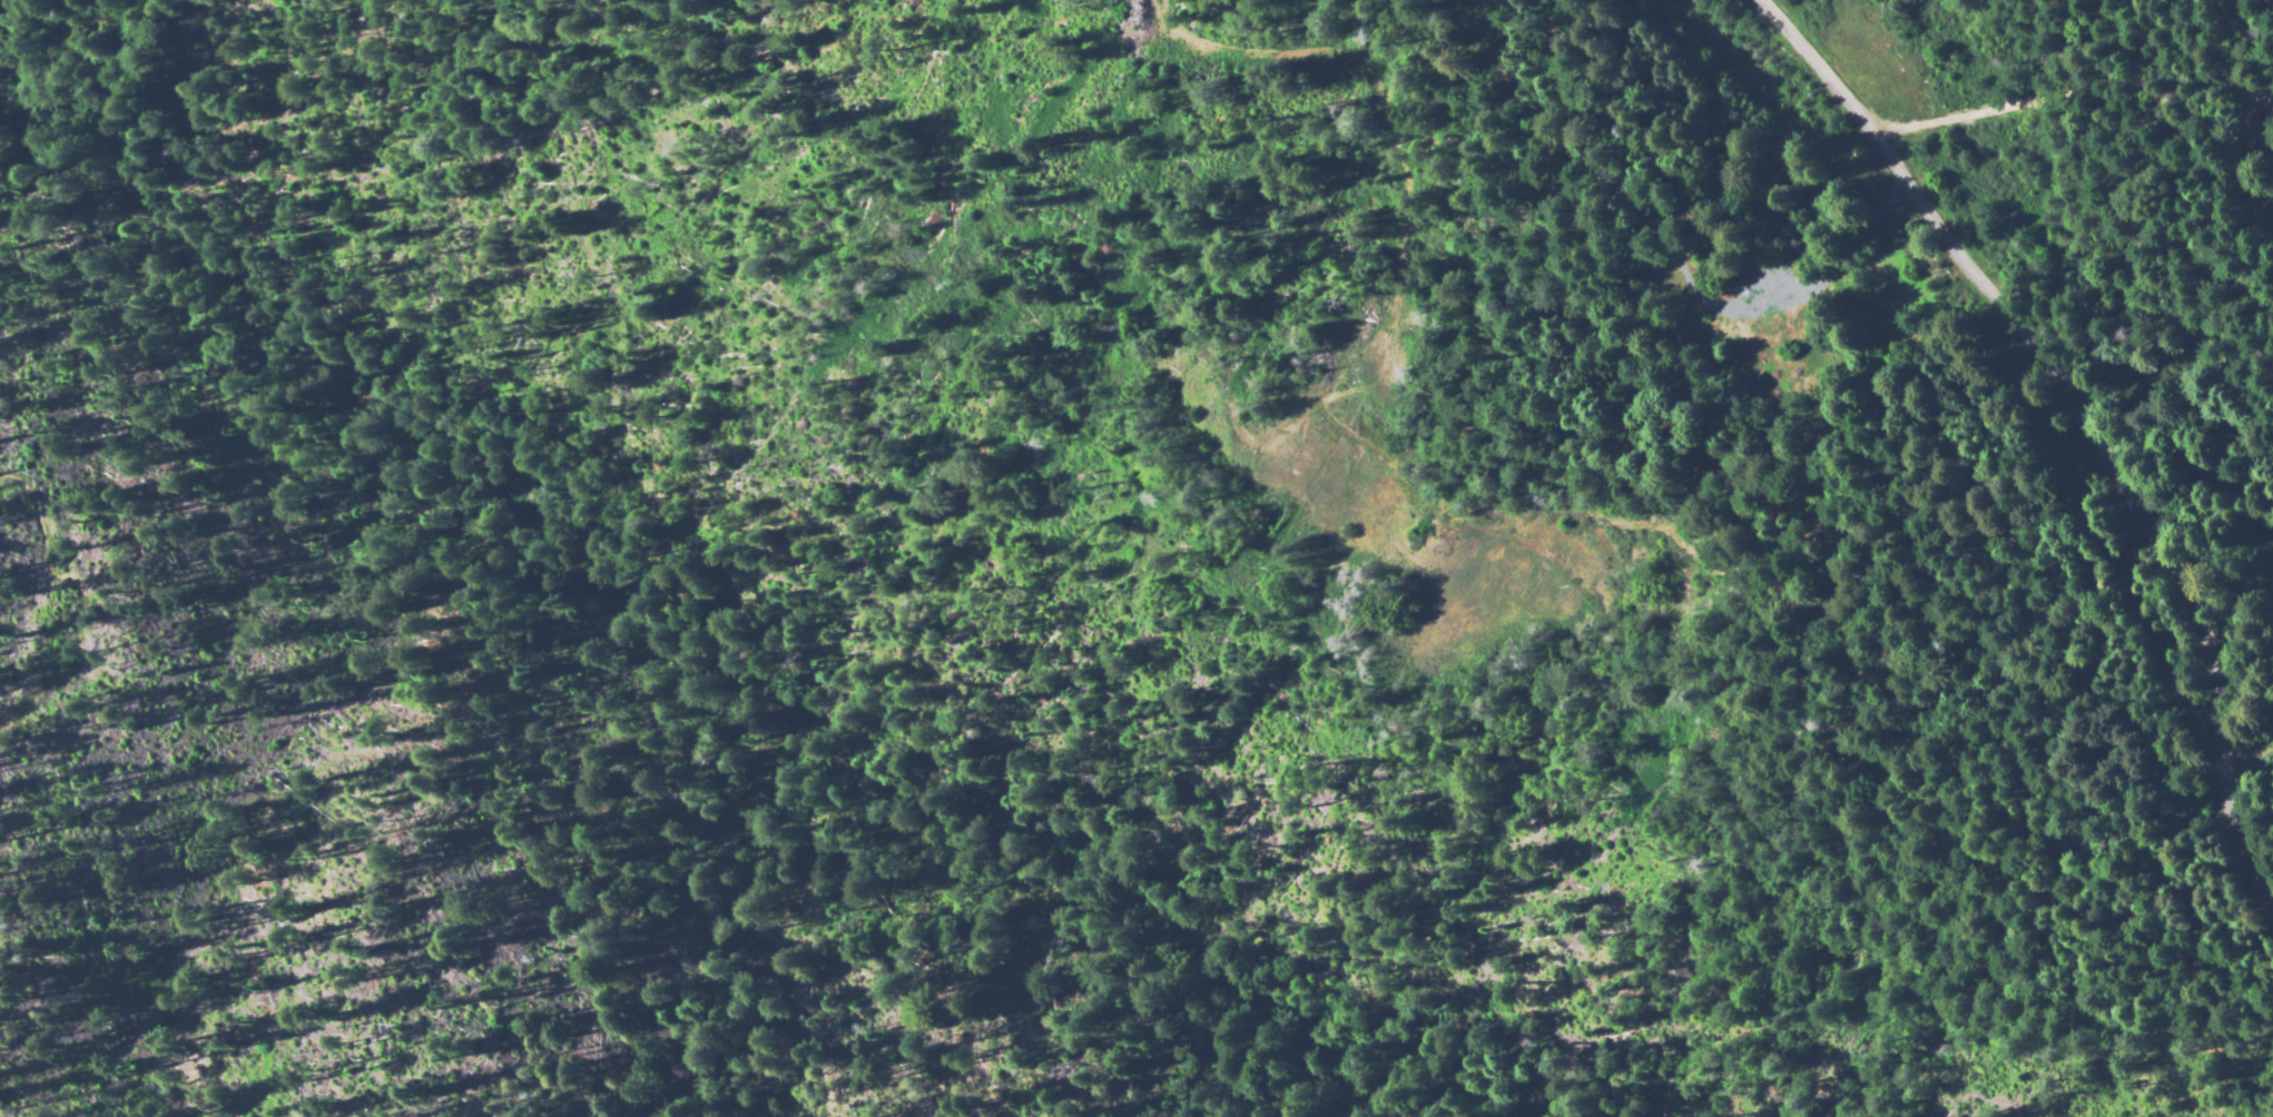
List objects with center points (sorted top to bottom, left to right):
road: (2079, 416)

